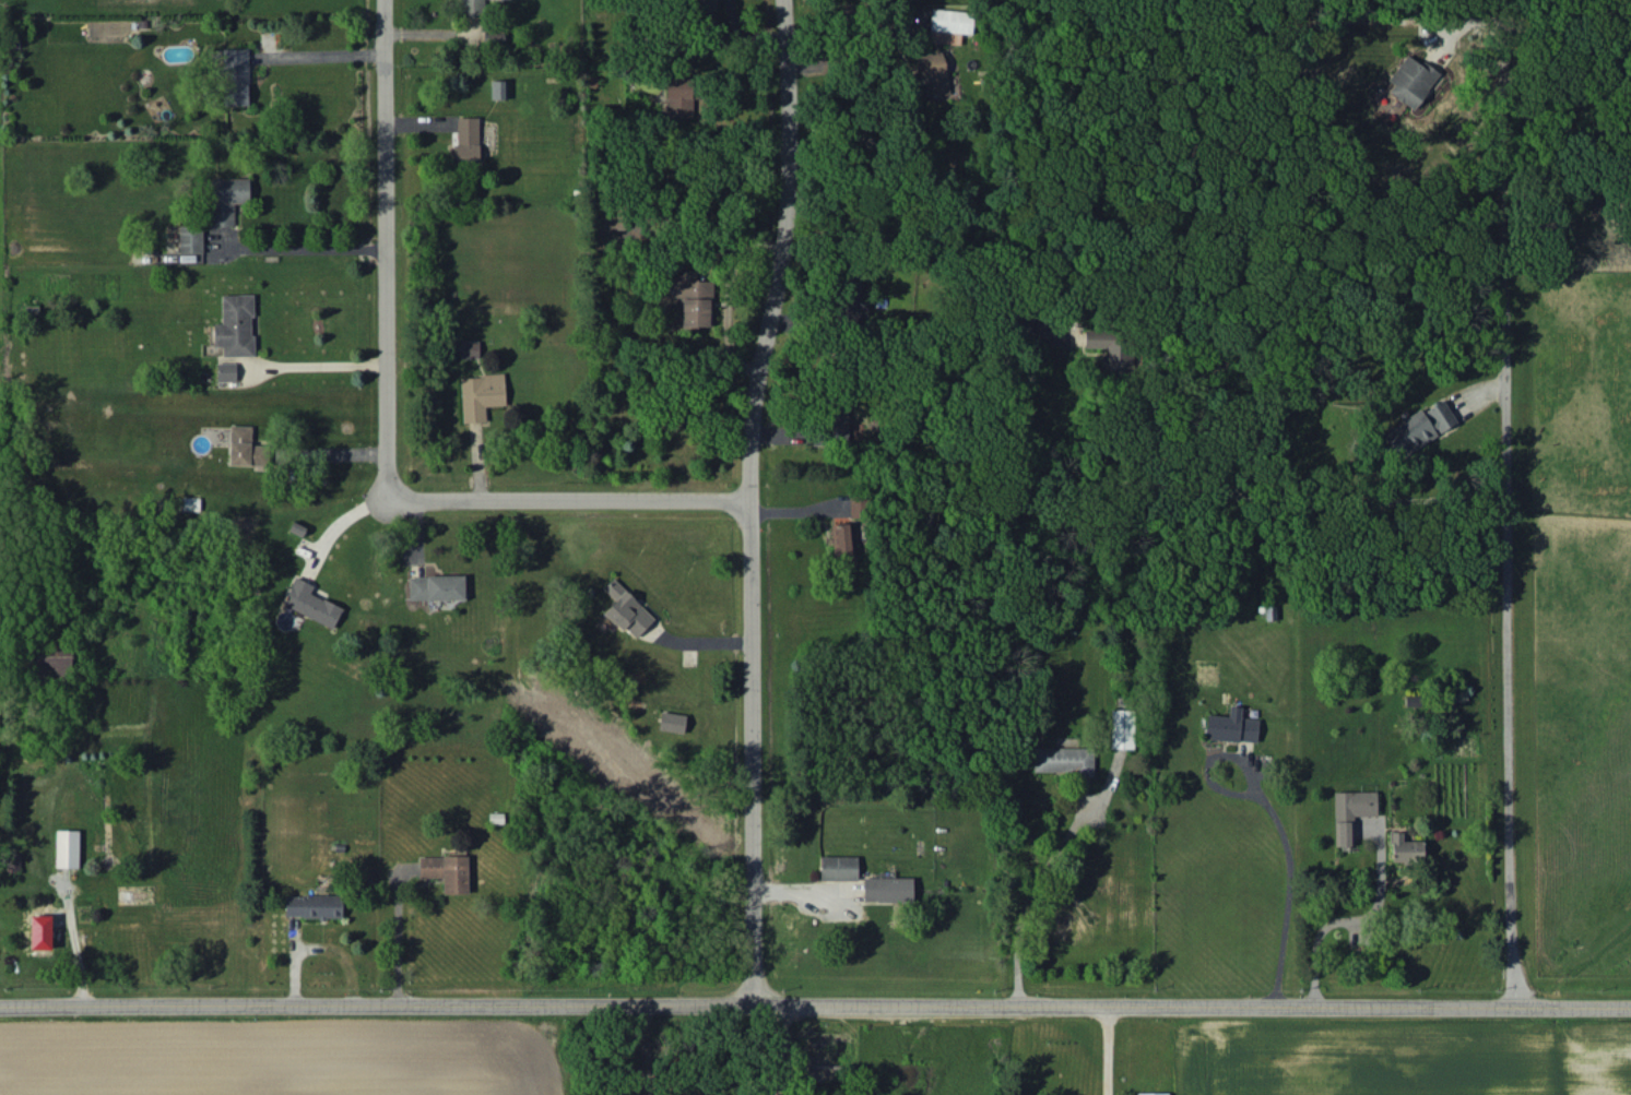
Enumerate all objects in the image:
building: (473, 8)
building: (949, 25)
road: (322, 55)
building: (932, 73)
building: (235, 76)
building: (1410, 80)
building: (498, 90)
building: (466, 139)
building: (226, 199)
building: (611, 227)
building: (190, 239)
road: (382, 243)
road: (310, 250)
road: (724, 290)
building: (235, 325)
building: (1111, 347)
building: (469, 348)
road: (314, 362)
building: (226, 371)
building: (481, 395)
building: (1418, 428)
building: (854, 430)
building: (244, 447)
road: (1190, 490)
road: (564, 491)
road: (745, 499)
building: (190, 503)
road: (338, 524)
building: (843, 543)
road: (1505, 567)
building: (436, 587)
building: (310, 603)
building: (626, 609)
building: (672, 722)
building: (1231, 726)
building: (1122, 728)
building: (1063, 760)
building: (1351, 812)
road: (1275, 819)
building: (67, 848)
building: (1406, 848)
building: (838, 867)
building: (446, 871)
building: (887, 889)
road: (802, 892)
building: (314, 905)
road: (1024, 905)
road: (1351, 918)
building: (40, 931)
road: (394, 938)
road: (314, 950)
road: (815, 1002)
road: (767, 1048)
road: (1102, 1048)
building: (1153, 1094)

